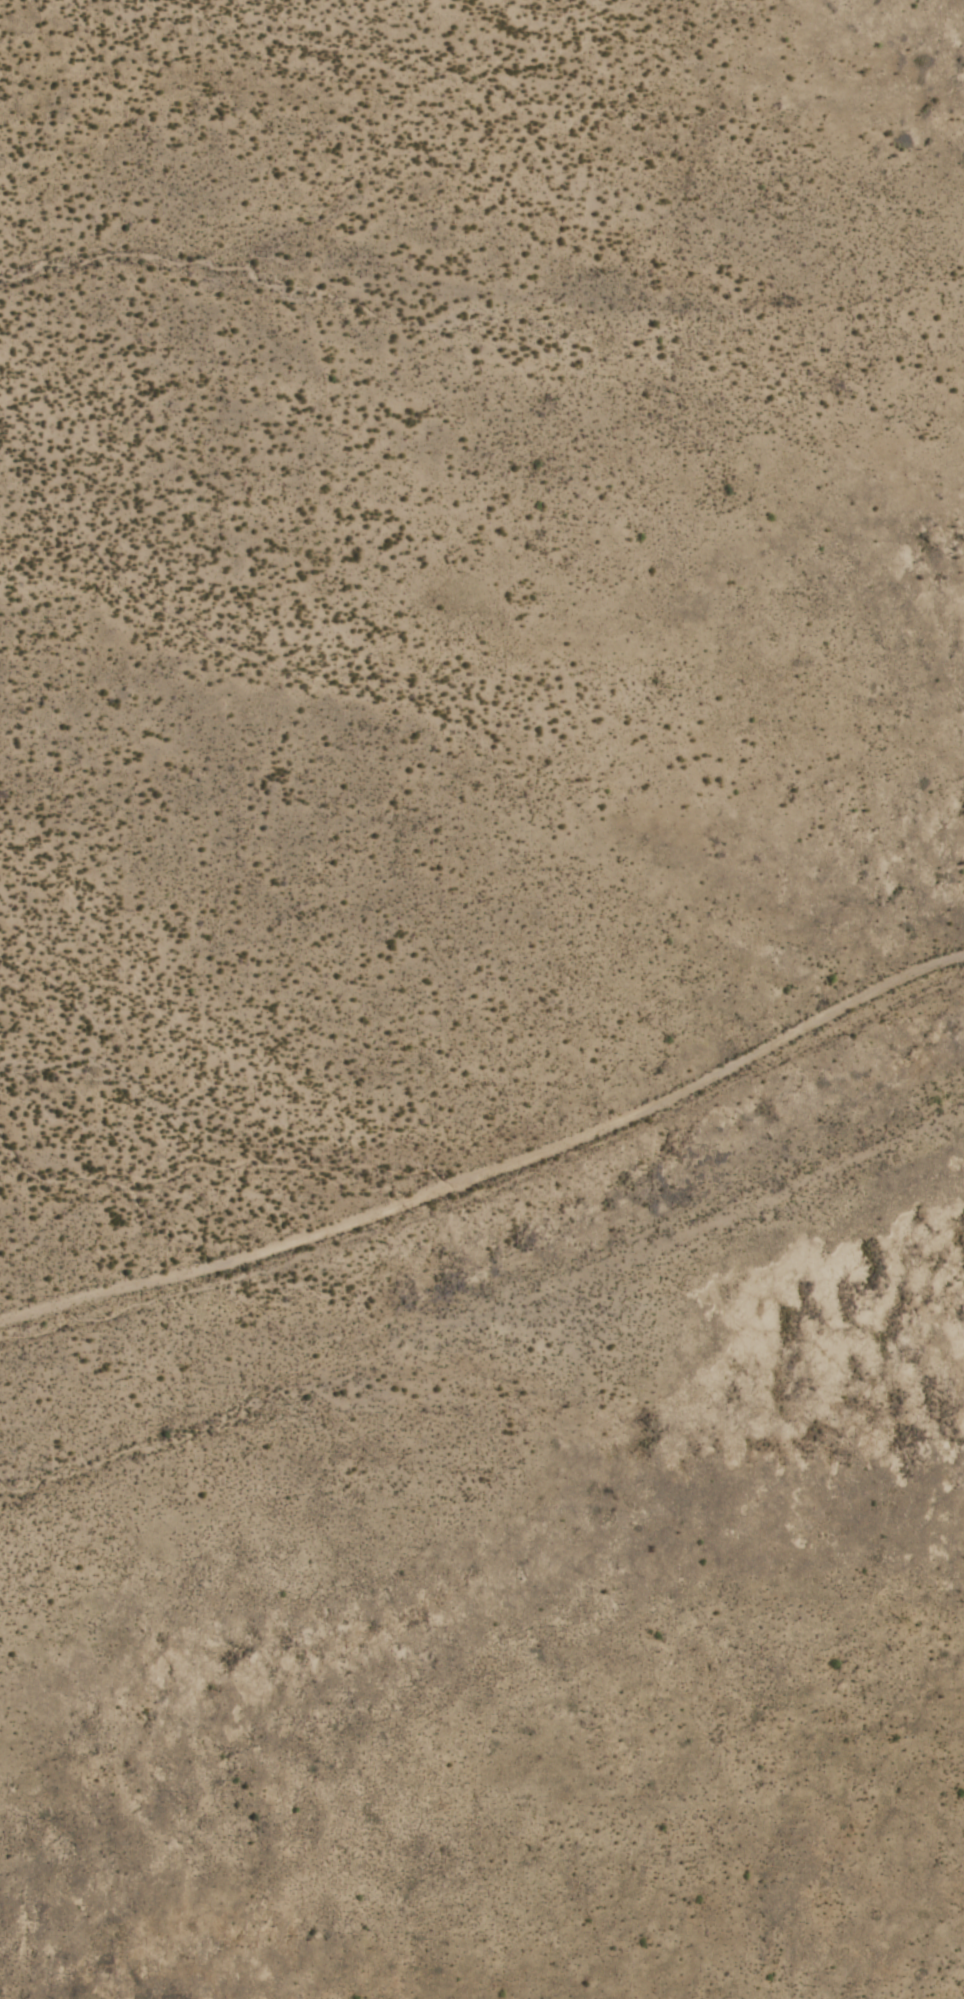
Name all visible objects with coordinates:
road: (494, 1165)

